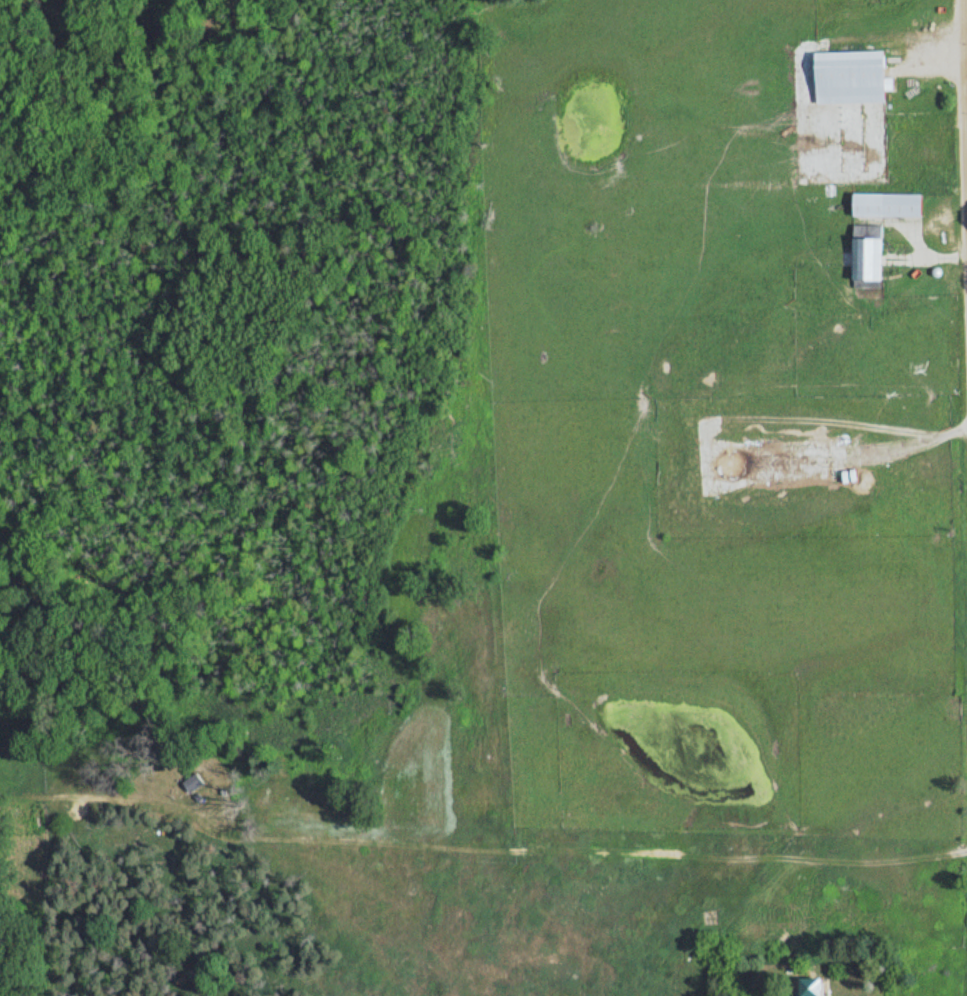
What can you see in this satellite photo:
building: (842, 76)
building: (880, 204)
building: (858, 258)
building: (806, 985)

